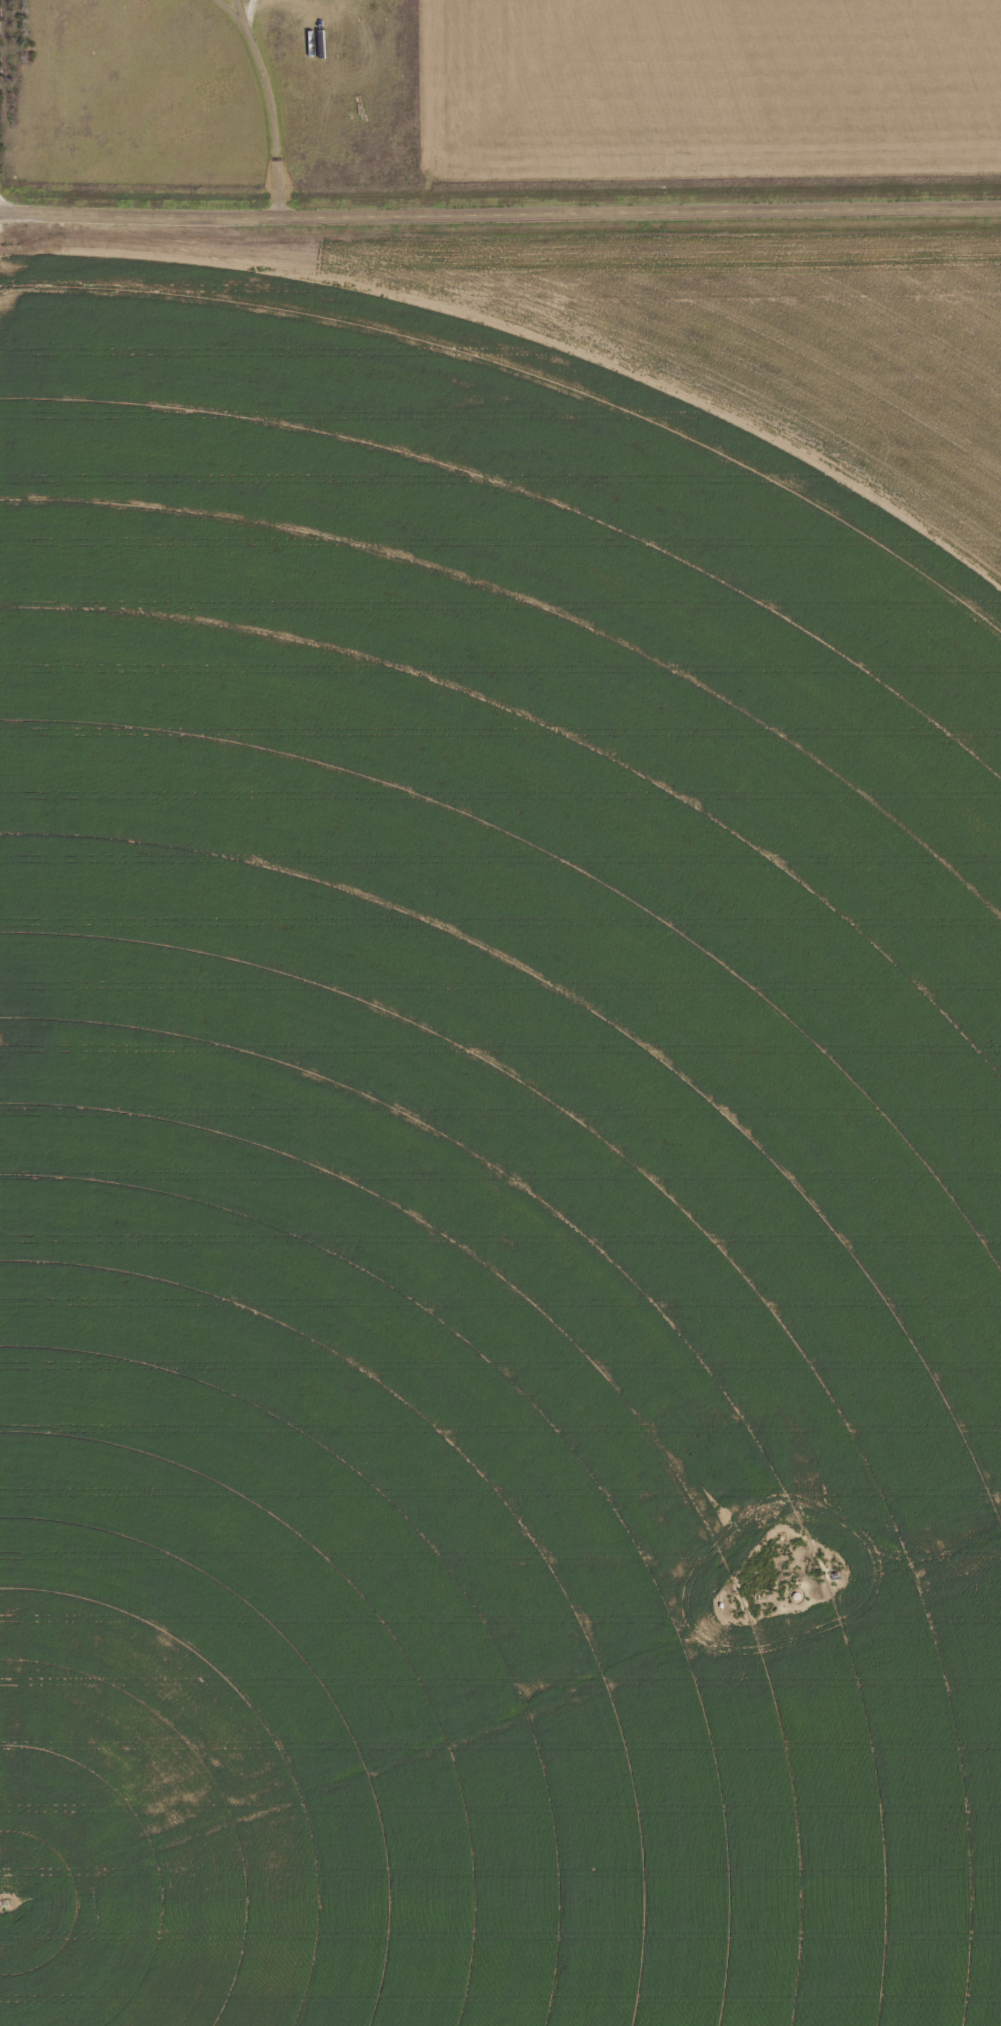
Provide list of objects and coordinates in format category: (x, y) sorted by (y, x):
road: (500, 220)

